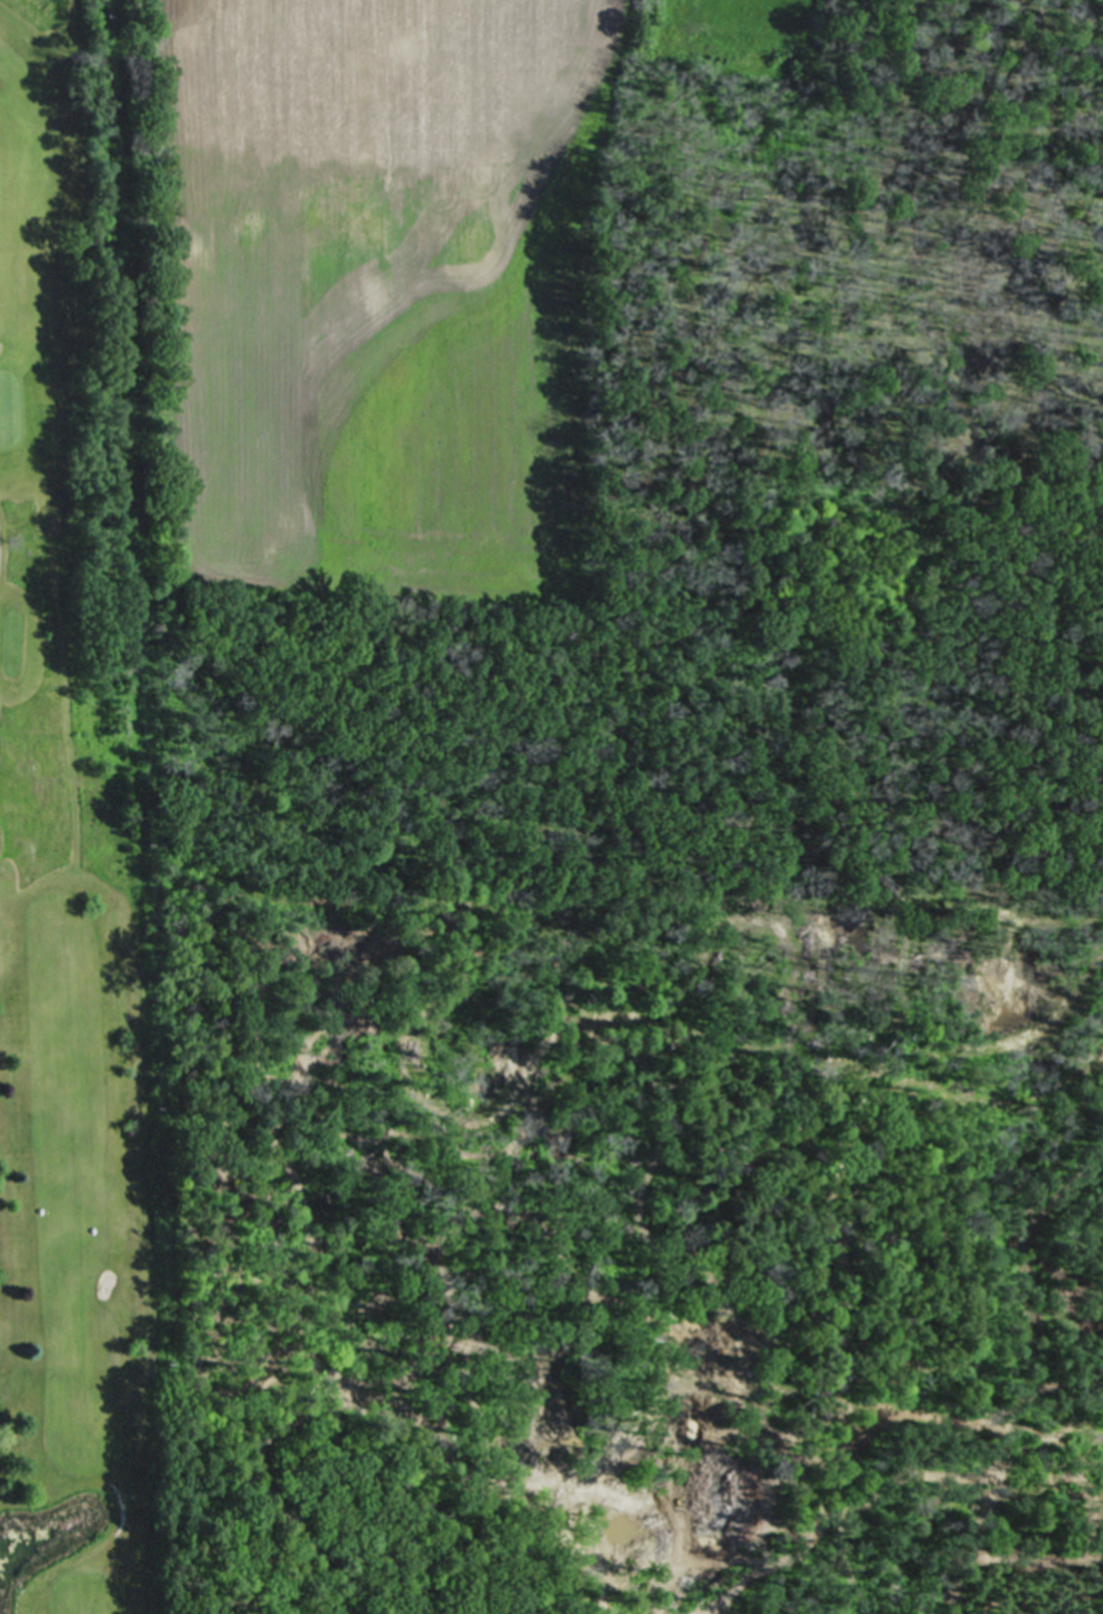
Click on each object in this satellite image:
park: (79, 792)

